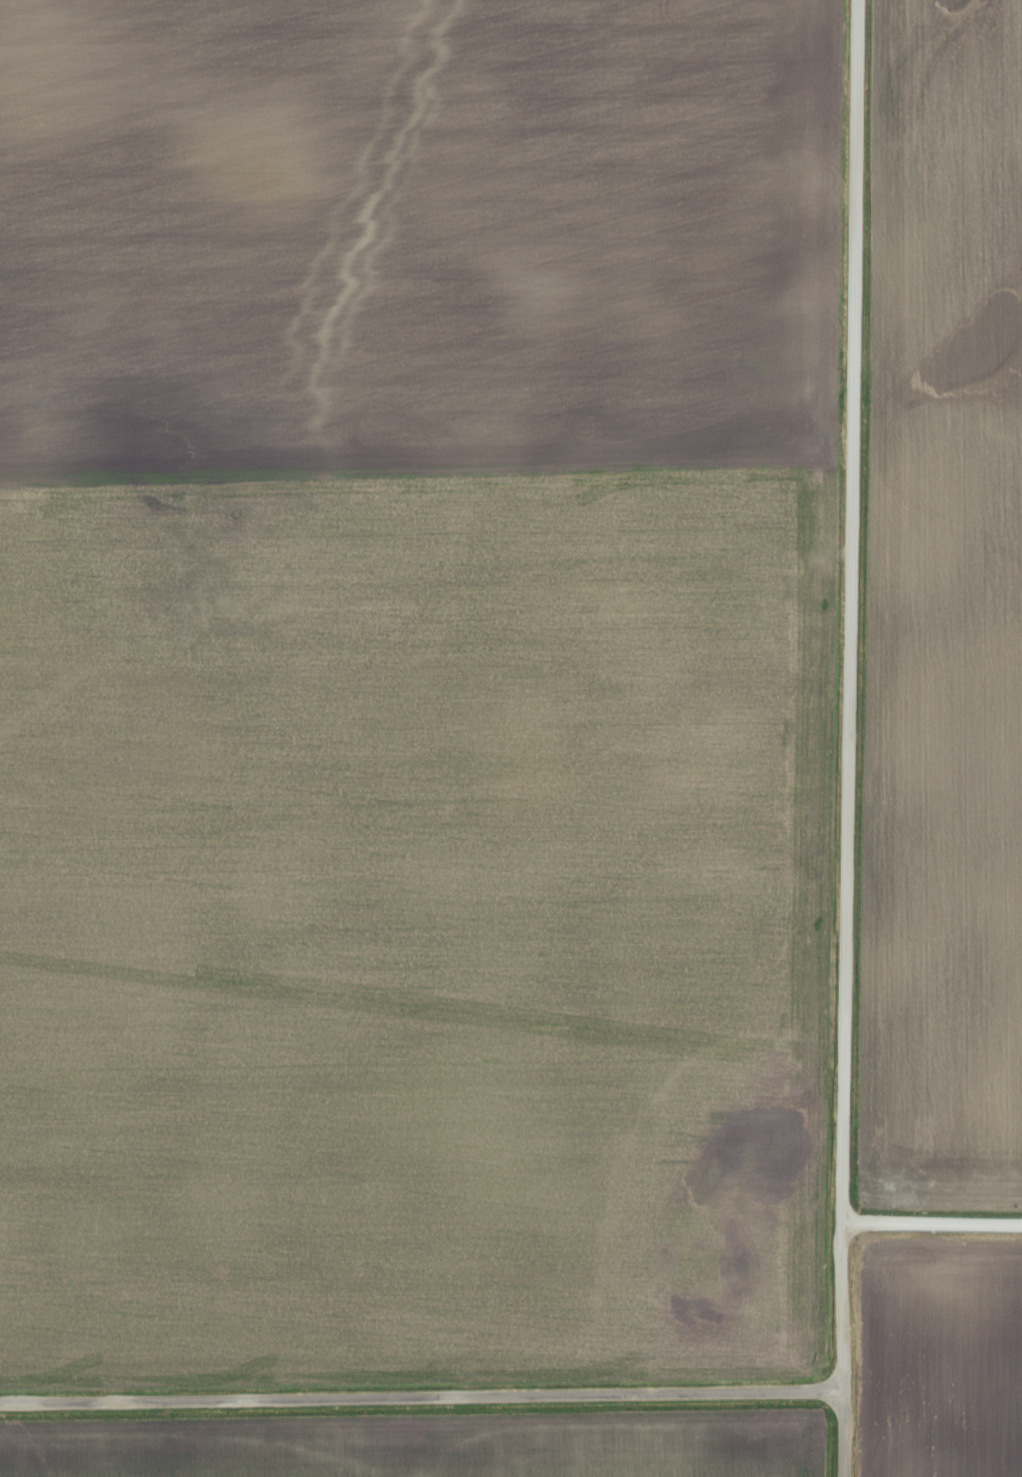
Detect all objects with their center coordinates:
crop: (415, 687)
road: (849, 738)
road: (933, 1224)
road: (419, 1403)
crop: (428, 1445)

